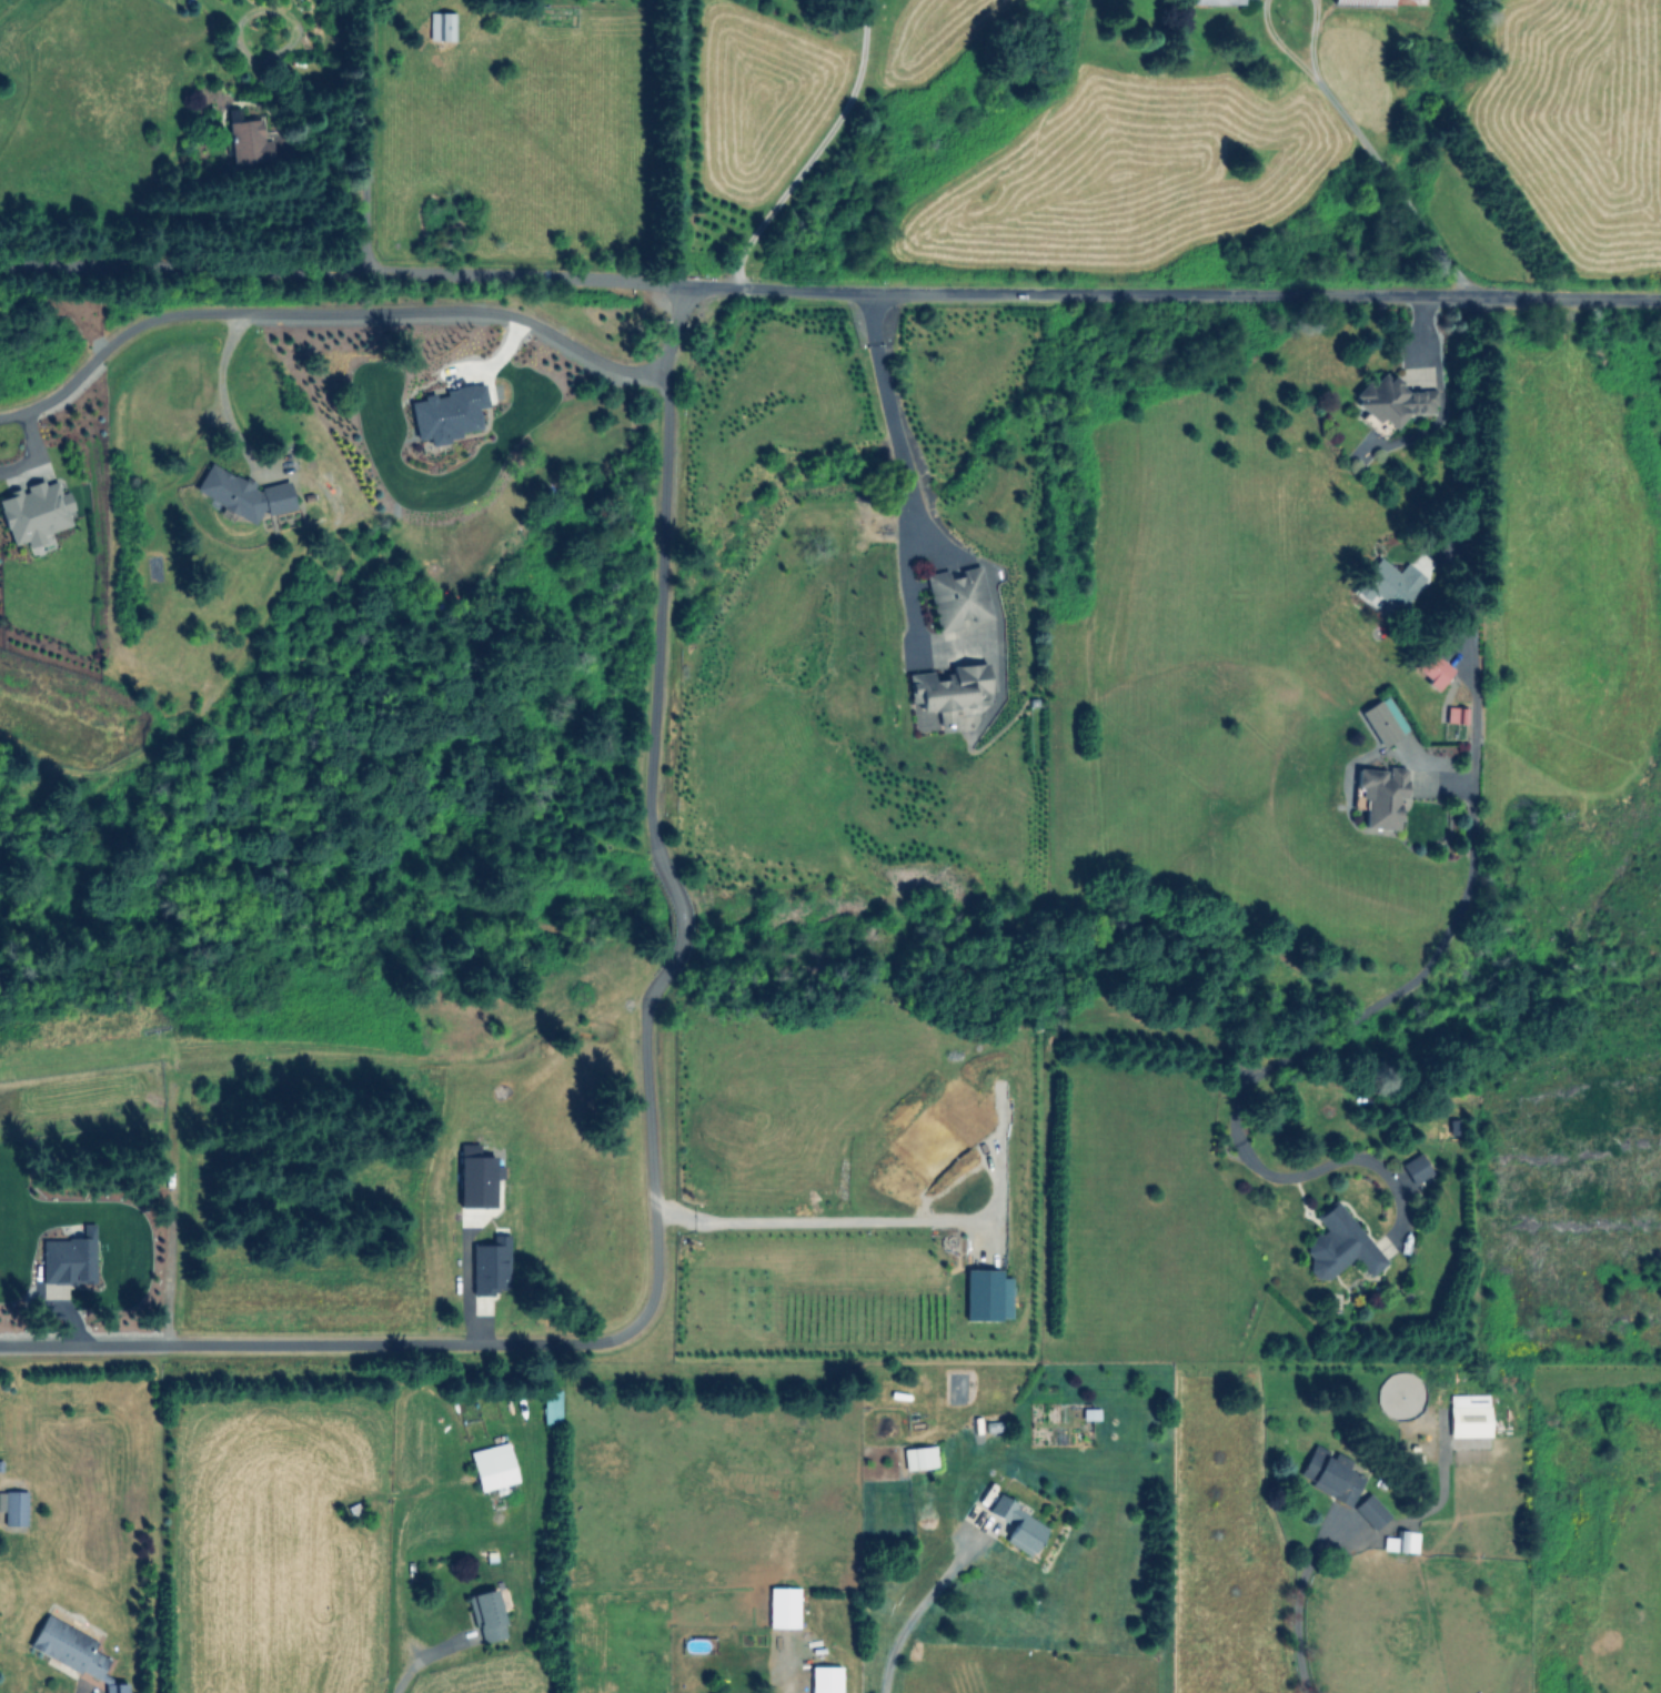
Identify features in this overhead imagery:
building: (1216, 1)
building: (1380, 1)
building: (442, 26)
road: (1312, 40)
road: (1280, 46)
road: (365, 134)
building: (246, 140)
road: (815, 150)
road: (1396, 187)
road: (829, 291)
road: (322, 312)
road: (217, 386)
building: (1392, 400)
building: (447, 412)
road: (895, 423)
road: (33, 451)
building: (242, 493)
building: (34, 512)
road: (1473, 586)
building: (958, 596)
building: (1431, 668)
building: (1456, 715)
building: (1383, 720)
building: (1380, 795)
road: (648, 820)
road: (1365, 1010)
road: (1323, 1165)
building: (1416, 1168)
building: (476, 1181)
road: (817, 1221)
building: (1339, 1244)
building: (69, 1258)
building: (490, 1264)
building: (986, 1294)
road: (315, 1343)
building: (551, 1405)
building: (1468, 1415)
building: (919, 1458)
building: (492, 1465)
building: (1330, 1475)
building: (13, 1506)
building: (1370, 1511)
building: (1017, 1524)
building: (1400, 1541)
road: (1293, 1603)
building: (783, 1606)
road: (916, 1610)
building: (487, 1615)
building: (72, 1651)
road: (415, 1661)
building: (824, 1679)

